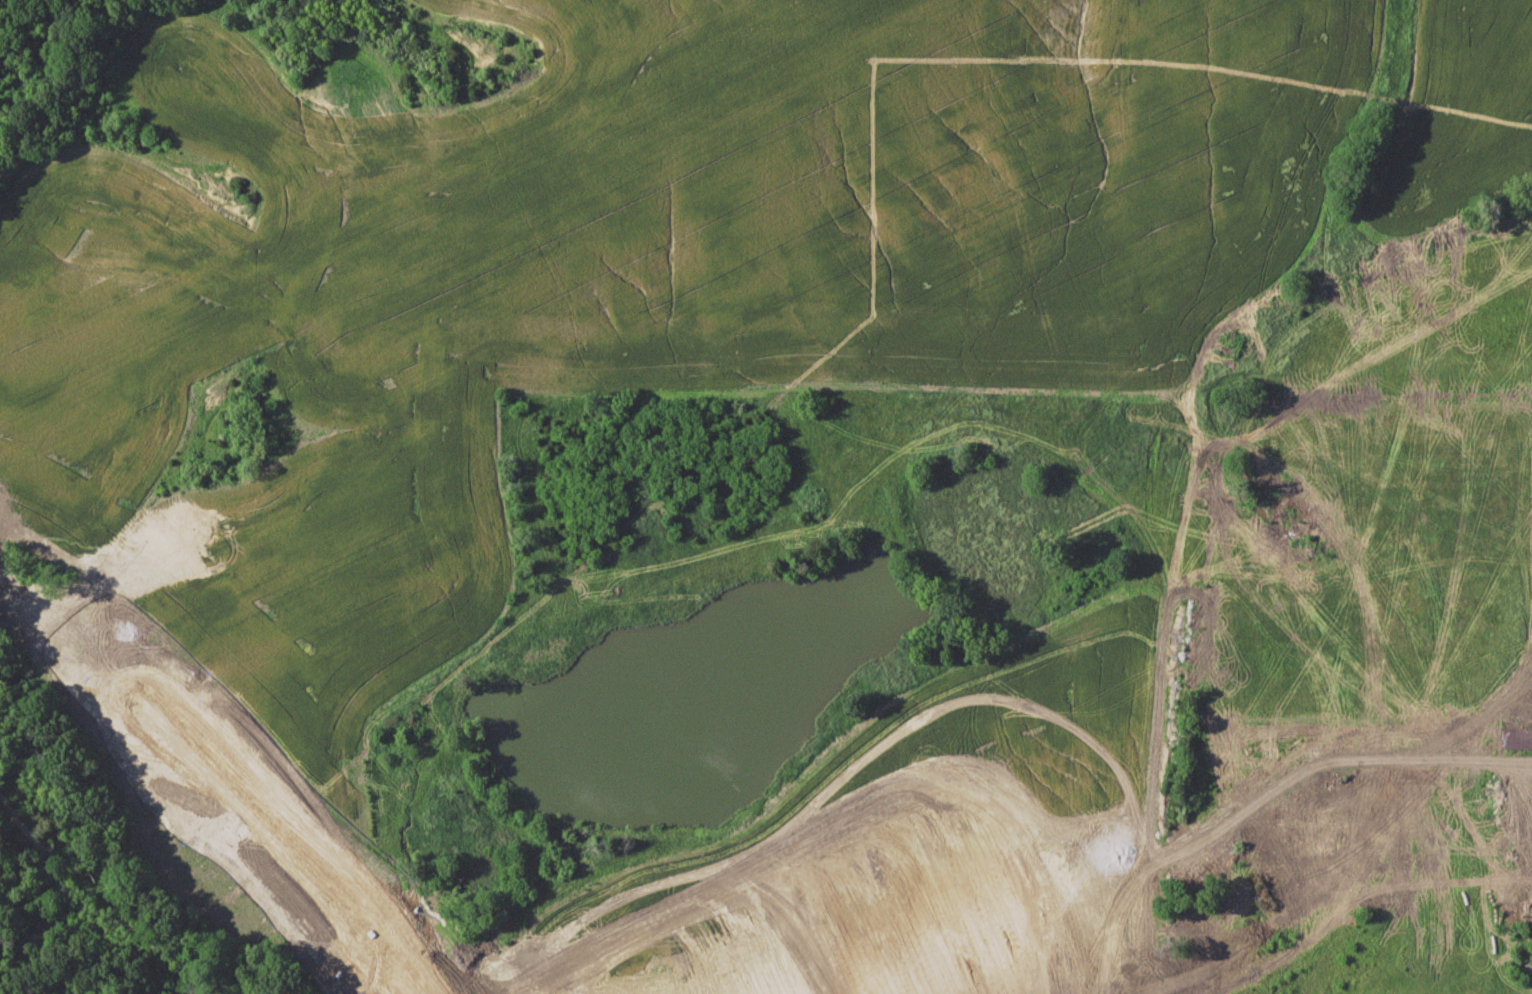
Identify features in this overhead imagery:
crop: (699, 271)
building: (1517, 737)
road: (1339, 757)
crop: (930, 852)
road: (277, 857)
road: (326, 859)

